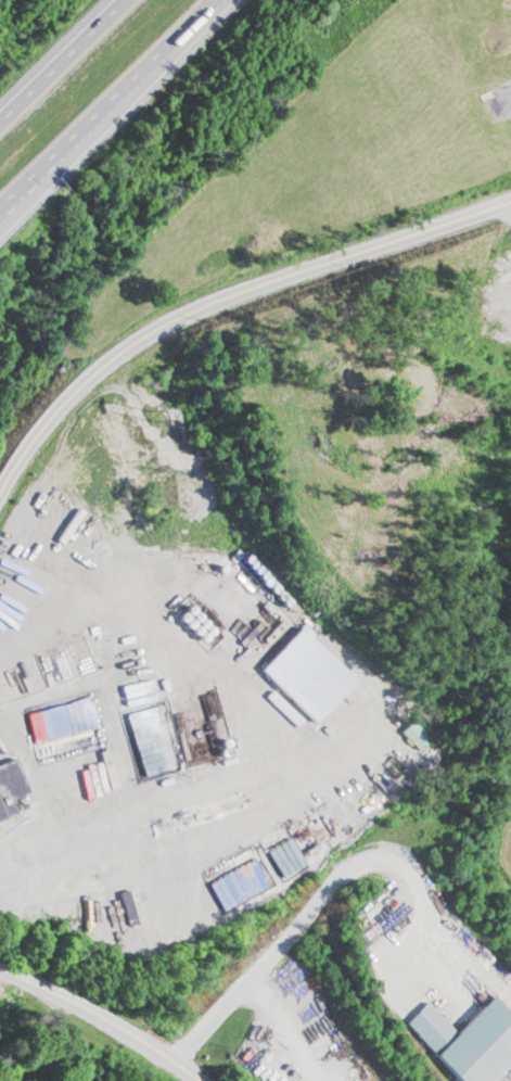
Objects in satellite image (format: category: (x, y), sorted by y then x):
building: (496, 30)
road: (61, 59)
road: (110, 106)
road: (222, 303)
building: (308, 673)
building: (414, 728)
building: (12, 813)
building: (382, 939)
road: (105, 1016)
road: (85, 1039)

